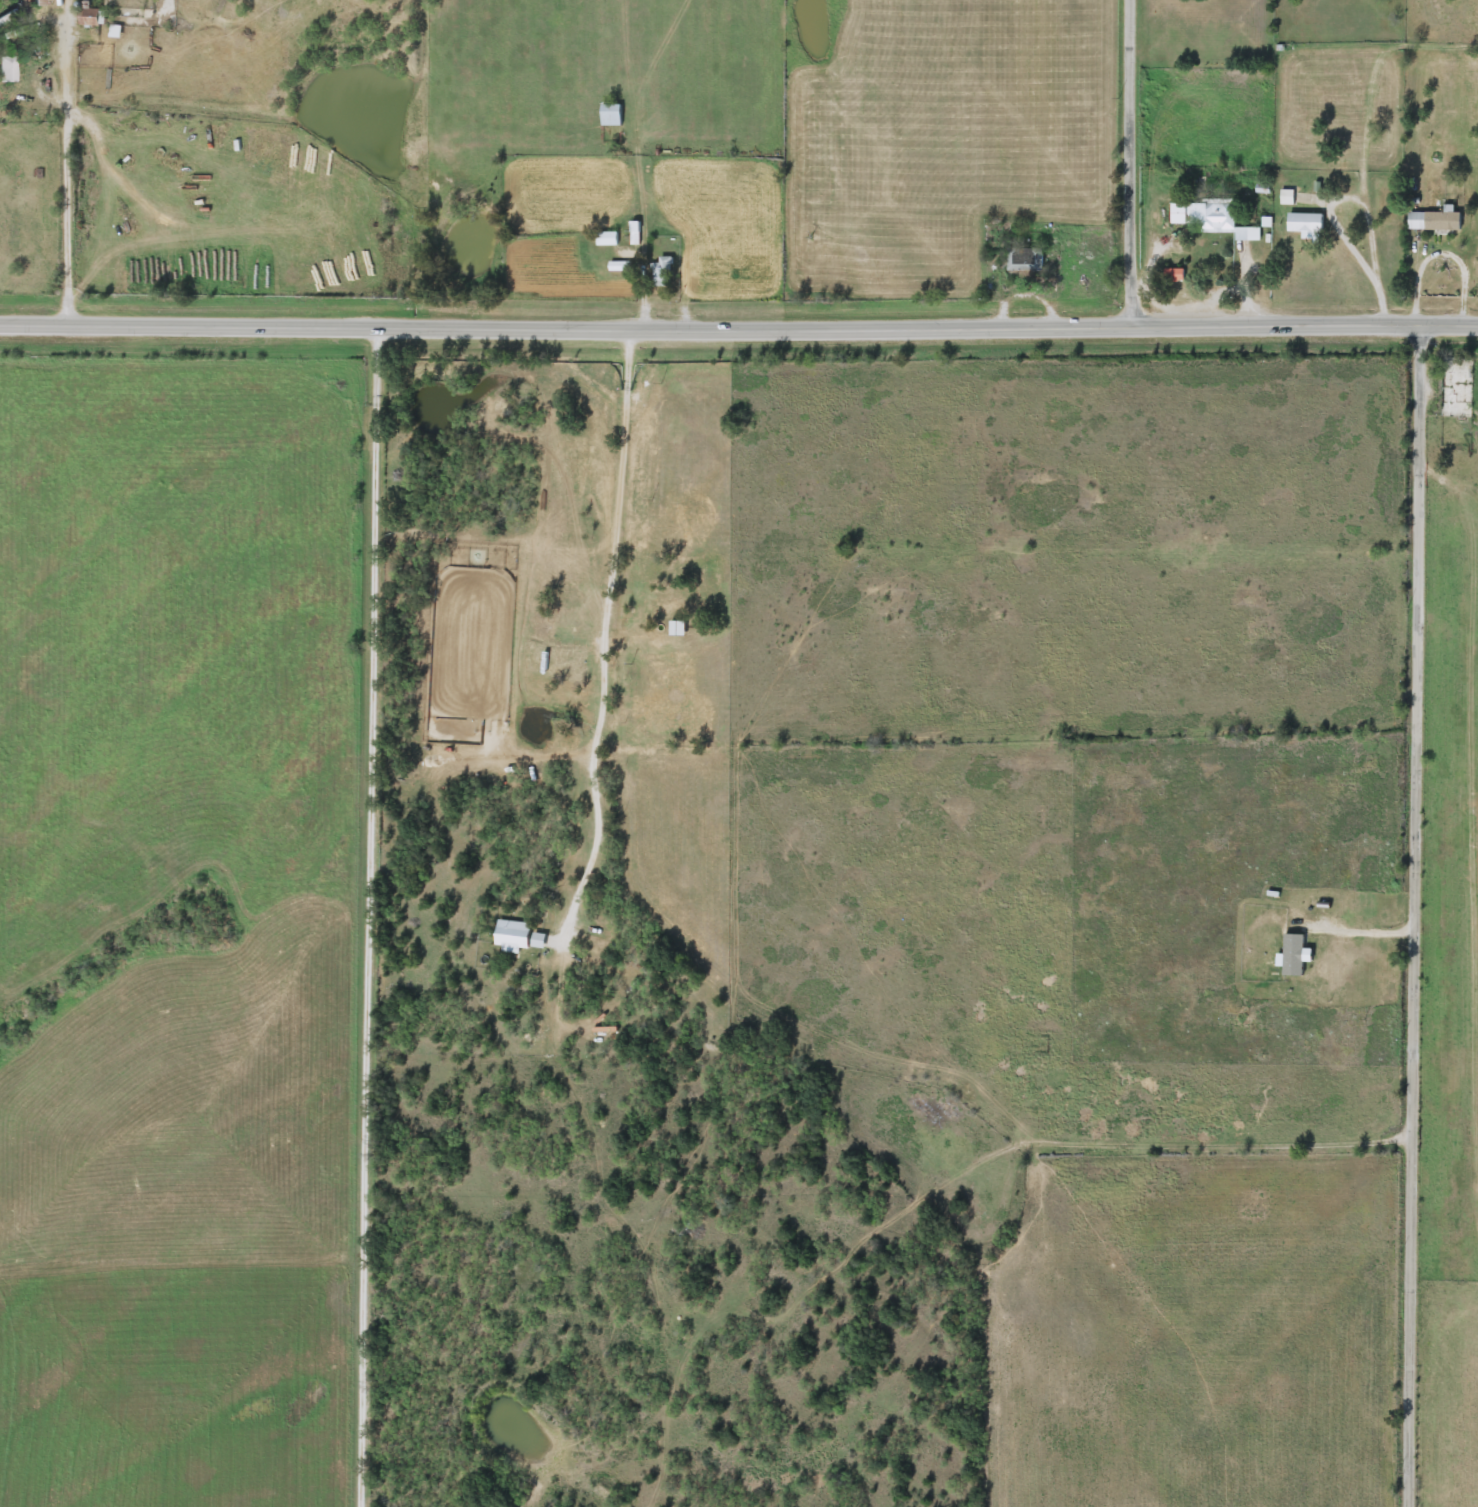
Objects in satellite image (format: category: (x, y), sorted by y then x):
building: (39, 3)
building: (91, 17)
building: (7, 70)
building: (610, 115)
road: (1128, 161)
road: (68, 168)
road: (1368, 216)
building: (1212, 219)
building: (1433, 221)
building: (1304, 223)
building: (606, 238)
building: (1024, 259)
building: (619, 266)
building: (661, 272)
building: (1173, 275)
road: (739, 325)
building: (1454, 388)
road: (1448, 474)
building: (672, 609)
building: (542, 629)
road: (606, 631)
road: (378, 638)
building: (570, 668)
road: (1414, 914)
road: (1357, 925)
road: (373, 1230)

